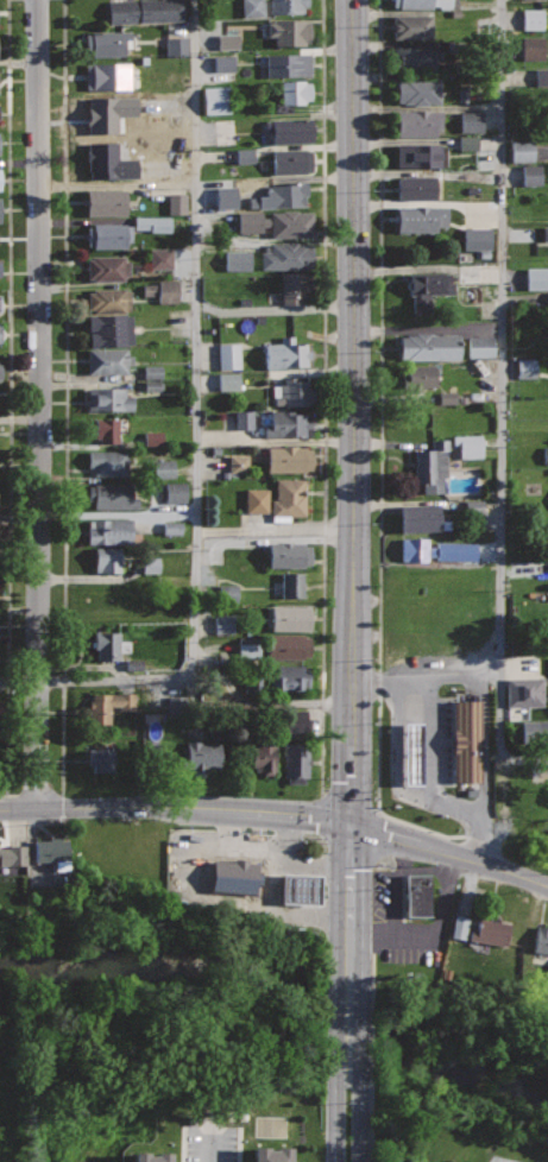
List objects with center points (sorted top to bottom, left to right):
building: (421, 2)
building: (288, 6)
building: (252, 7)
building: (144, 11)
building: (531, 18)
building: (411, 26)
building: (290, 31)
building: (227, 40)
building: (107, 43)
building: (176, 45)
building: (533, 48)
building: (416, 57)
building: (223, 63)
building: (289, 65)
building: (106, 74)
building: (542, 77)
building: (295, 91)
building: (418, 91)
building: (216, 100)
building: (106, 105)
building: (0, 112)
building: (471, 121)
building: (420, 122)
building: (290, 130)
building: (113, 138)
building: (467, 143)
building: (522, 151)
building: (244, 156)
building: (422, 156)
building: (291, 159)
building: (107, 168)
building: (530, 173)
building: (0, 178)
building: (416, 187)
building: (284, 194)
building: (226, 197)
building: (106, 201)
building: (176, 203)
building: (0, 211)
building: (421, 219)
building: (277, 222)
building: (152, 223)
building: (109, 235)
building: (477, 238)
building: (288, 255)
building: (160, 258)
building: (238, 260)
building: (0, 267)
building: (108, 267)
building: (536, 278)
building: (295, 286)
building: (428, 286)
building: (162, 290)
building: (112, 299)
building: (111, 329)
building: (0, 336)
building: (0, 342)
building: (480, 346)
building: (430, 347)
building: (288, 353)
building: (228, 355)
building: (108, 360)
building: (527, 367)
building: (0, 370)
building: (152, 377)
building: (422, 377)
building: (228, 381)
building: (294, 390)
road: (7, 397)
road: (62, 397)
building: (447, 397)
building: (111, 398)
road: (321, 398)
road: (502, 399)
road: (38, 405)
road: (351, 412)
building: (242, 419)
building: (289, 423)
building: (107, 429)
road: (197, 432)
building: (152, 437)
building: (470, 446)
building: (289, 457)
building: (109, 461)
building: (238, 463)
building: (432, 463)
building: (163, 468)
road: (378, 469)
building: (175, 492)
building: (115, 495)
building: (256, 500)
building: (288, 500)
building: (473, 506)
building: (421, 517)
building: (172, 528)
road: (273, 528)
building: (111, 530)
building: (426, 549)
building: (455, 551)
building: (290, 554)
building: (108, 558)
building: (150, 564)
building: (292, 585)
building: (227, 591)
building: (290, 617)
building: (223, 624)
building: (108, 645)
building: (276, 645)
building: (133, 664)
road: (429, 676)
building: (275, 677)
building: (524, 691)
building: (111, 705)
building: (296, 720)
building: (535, 731)
building: (466, 740)
building: (411, 752)
building: (203, 754)
building: (264, 754)
building: (102, 759)
building: (297, 764)
road: (8, 795)
road: (175, 809)
building: (53, 848)
road: (449, 853)
building: (12, 855)
building: (233, 880)
building: (300, 889)
building: (418, 895)
building: (459, 927)
building: (491, 932)
building: (541, 939)
river: (170, 974)
road: (351, 993)
river: (351, 1016)
river: (456, 1049)
park: (271, 1125)
parking lot: (209, 1143)
road: (210, 1144)
building: (271, 1154)
building: (147, 1156)
parking lot: (500, 1160)

